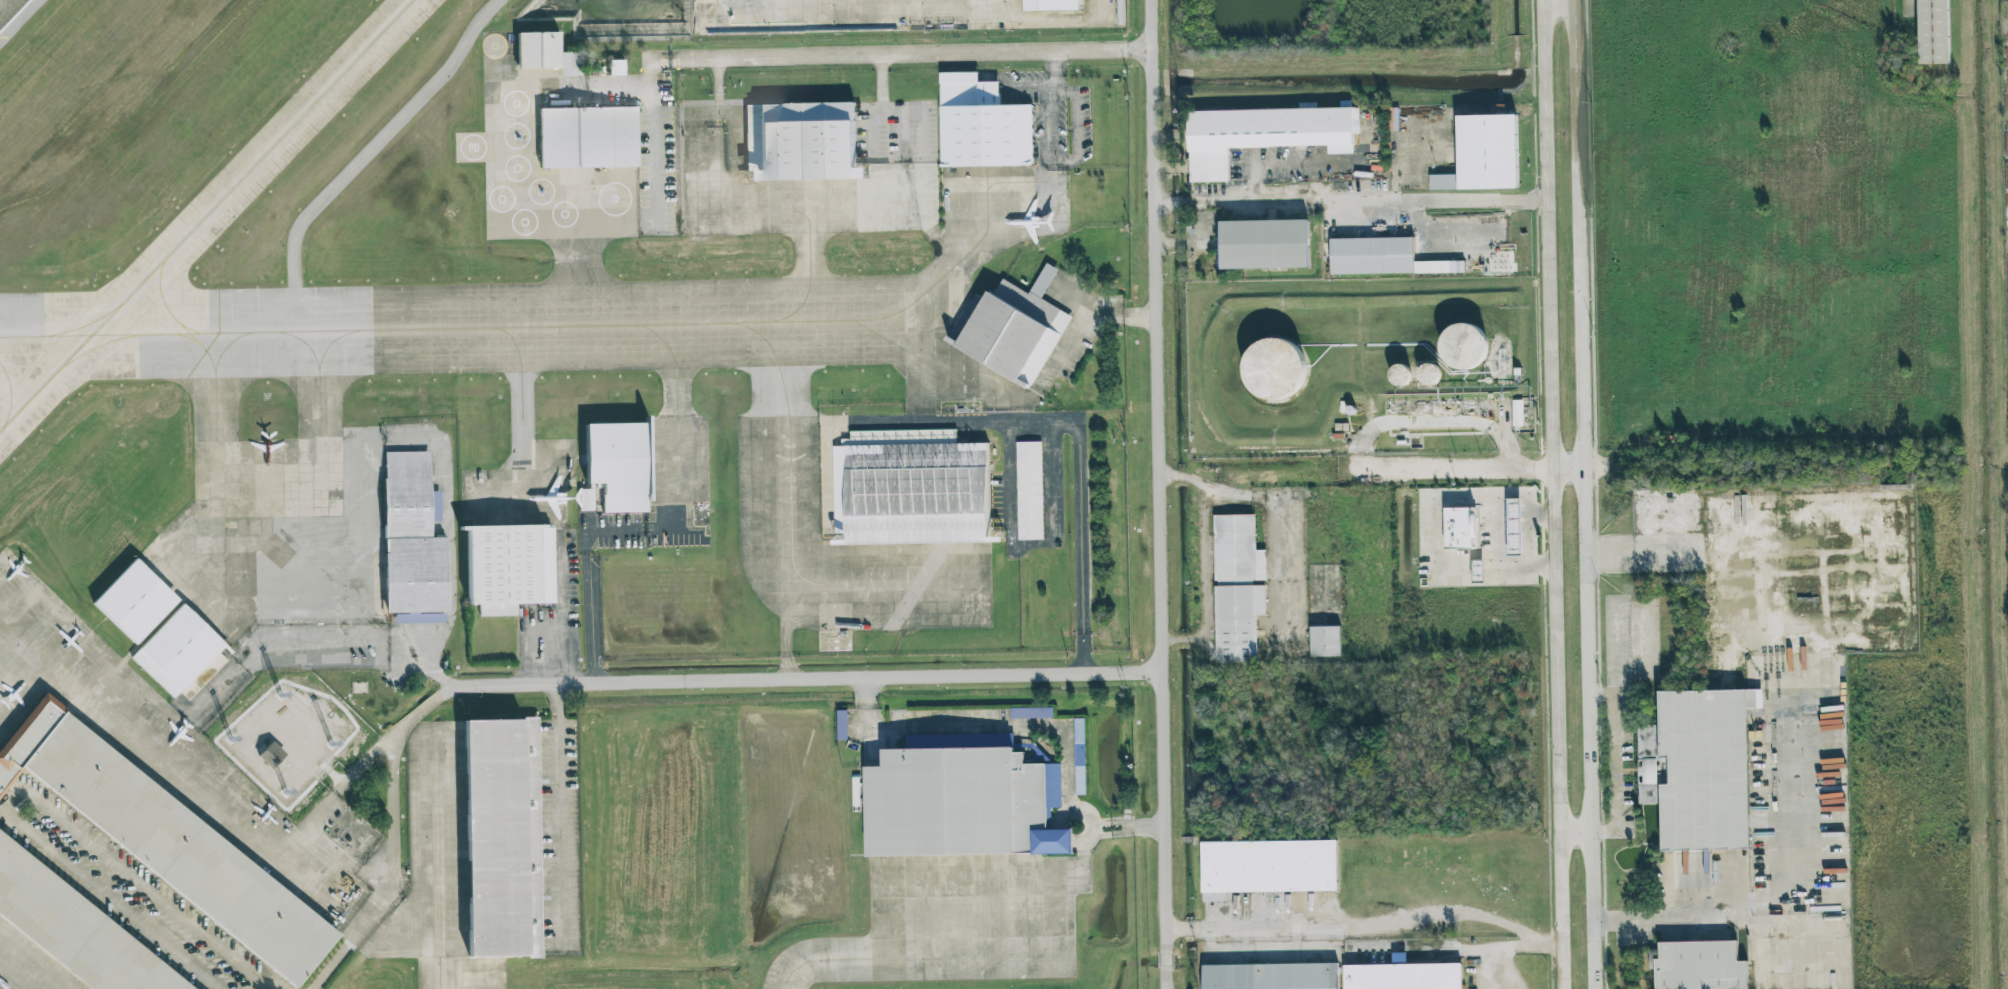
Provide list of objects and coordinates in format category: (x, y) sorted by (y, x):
building: (1050, 5)
road: (1562, 5)
building: (1120, 12)
airport apron: (862, 17)
building: (1934, 32)
airport hangar: (546, 52)
building: (546, 52)
road: (909, 54)
building: (616, 67)
road: (725, 75)
road: (882, 81)
road: (726, 98)
road: (1049, 99)
building: (987, 126)
building: (1258, 133)
airport hangar: (587, 137)
building: (587, 137)
road: (655, 137)
building: (803, 139)
airport: (573, 144)
helipad: (472, 147)
airport apron: (497, 147)
road: (367, 153)
building: (1482, 154)
road: (1411, 161)
road: (1289, 166)
airport apron: (853, 175)
road: (1349, 204)
airport taxiway: (206, 215)
building: (1263, 244)
building: (1370, 257)
airport taxiway: (947, 270)
airport taxiway: (809, 272)
airport taxiway: (576, 282)
road: (1232, 289)
airport taxiway: (177, 320)
airport taxiway: (85, 324)
airport taxiway: (188, 326)
airport taxiway: (435, 327)
building: (1013, 329)
airport taxiway: (874, 334)
airport taxiway: (188, 336)
airport taxiway: (100, 344)
building: (1464, 346)
airport taxiway: (521, 364)
building: (1274, 368)
airport taxiway: (215, 370)
airport taxiway: (783, 370)
airport taxiway: (678, 372)
building: (1430, 374)
airport taxiway: (324, 380)
airport taxiway: (11, 396)
building: (1517, 413)
road: (933, 424)
road: (1357, 459)
building: (618, 468)
road: (1576, 472)
road: (1202, 484)
building: (1030, 491)
building: (912, 494)
road: (1156, 494)
road: (1558, 494)
road: (1594, 494)
airport: (589, 495)
airport apron: (882, 499)
road: (1541, 513)
road: (1494, 514)
road: (1080, 520)
airport apron: (587, 522)
building: (1514, 527)
building: (1460, 528)
airport apron: (281, 534)
road: (1432, 536)
road: (1727, 537)
building: (411, 539)
road: (590, 541)
road: (1028, 543)
road: (452, 548)
road: (1287, 552)
road: (1879, 564)
building: (506, 565)
building: (1479, 569)
building: (1240, 589)
road: (592, 617)
road: (1794, 629)
building: (162, 634)
building: (1325, 641)
road: (726, 679)
building: (1031, 713)
road: (994, 725)
road: (1620, 747)
building: (271, 754)
building: (1079, 758)
building: (1704, 768)
airport apron: (244, 788)
road: (26, 792)
building: (958, 806)
road: (318, 812)
road: (560, 815)
road: (1120, 826)
parking lot: (560, 836)
road: (1580, 837)
building: (163, 839)
building: (495, 841)
airport apron: (972, 846)
building: (1271, 868)
road: (393, 871)
parking lot: (127, 892)
road: (1687, 920)
road: (1366, 923)
building: (71, 930)
airport taxiway: (820, 959)
airport apron: (28, 966)
building: (1697, 967)
road: (1500, 973)
airport taxiway: (443, 974)
building: (1338, 977)

